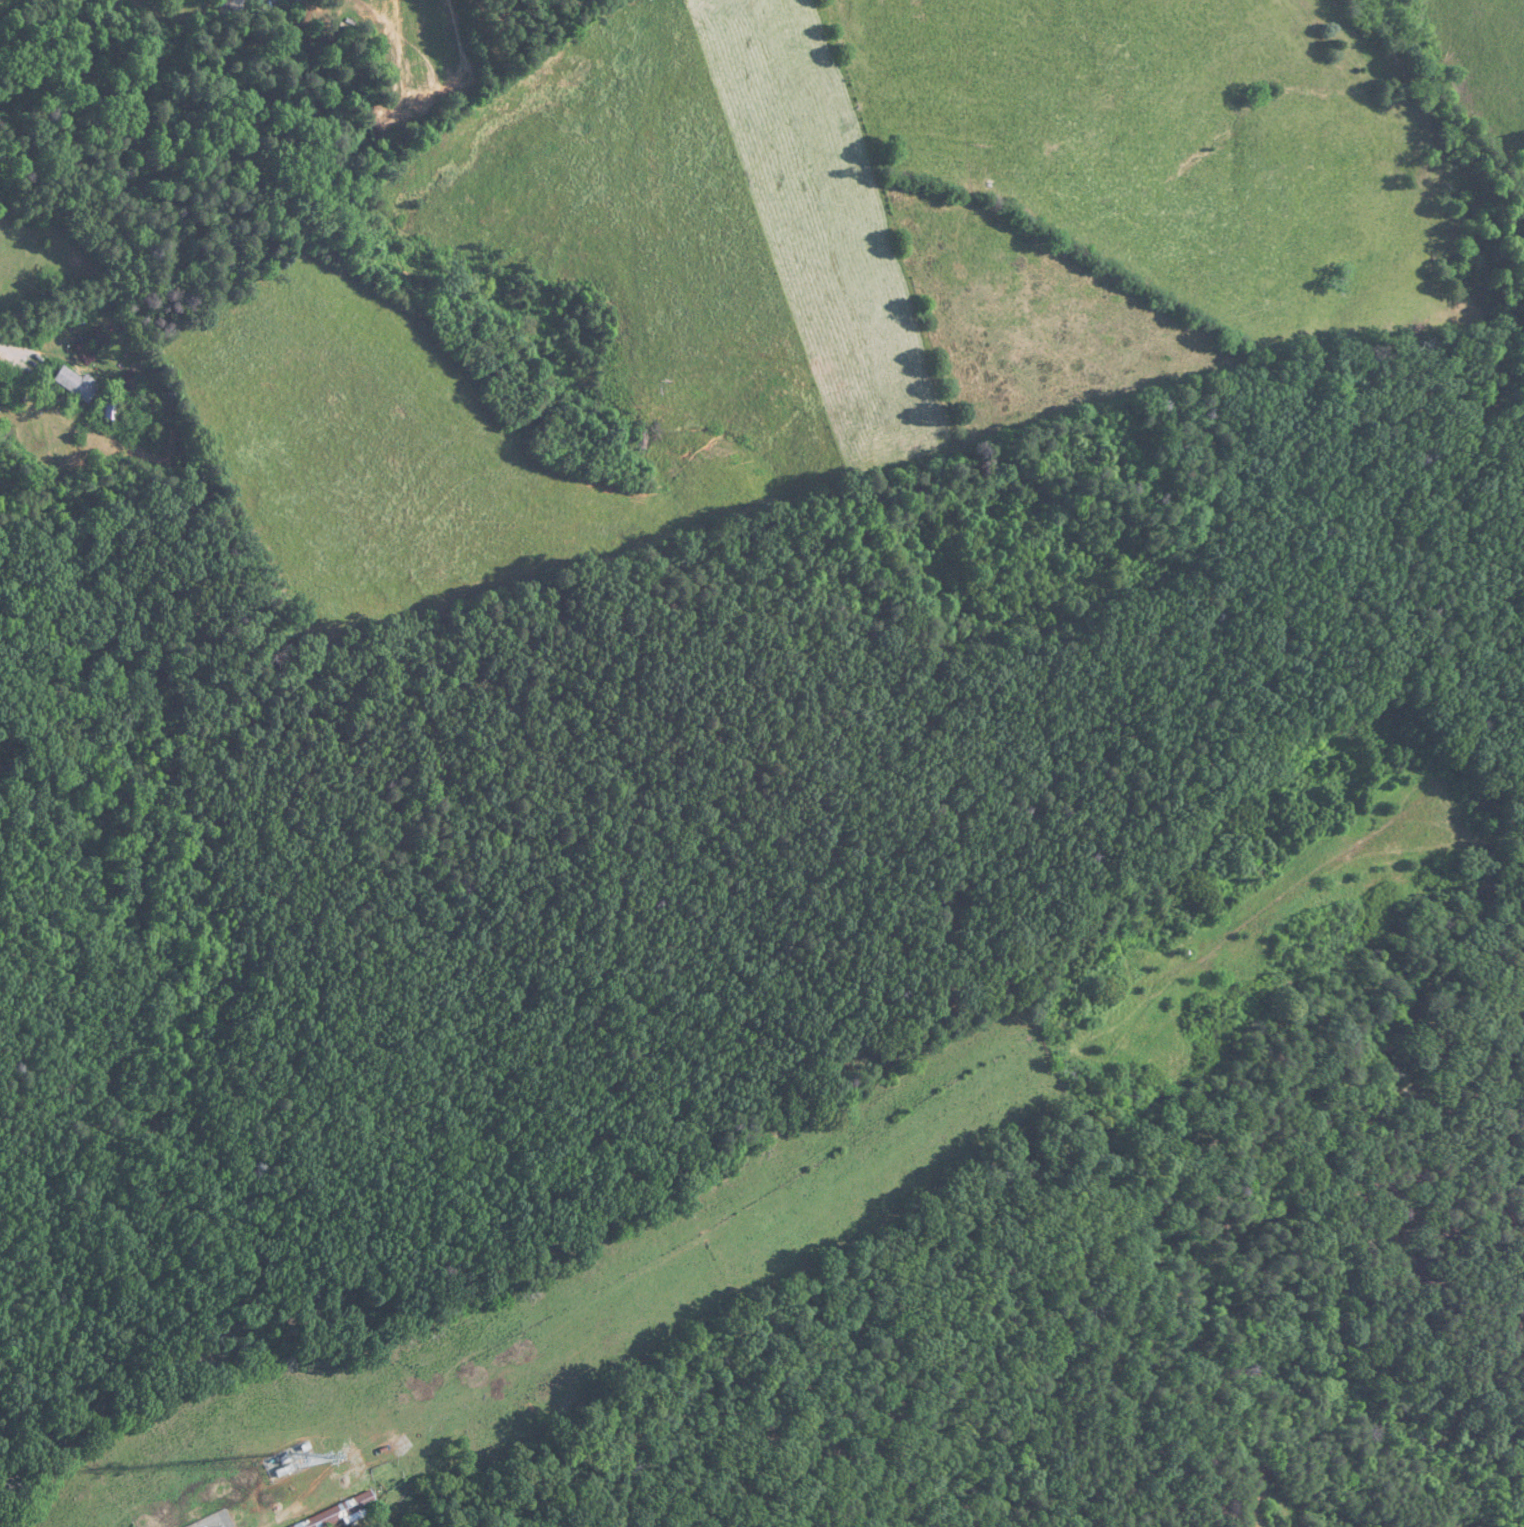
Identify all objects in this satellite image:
road: (13, 353)
building: (76, 384)
building: (340, 1513)

